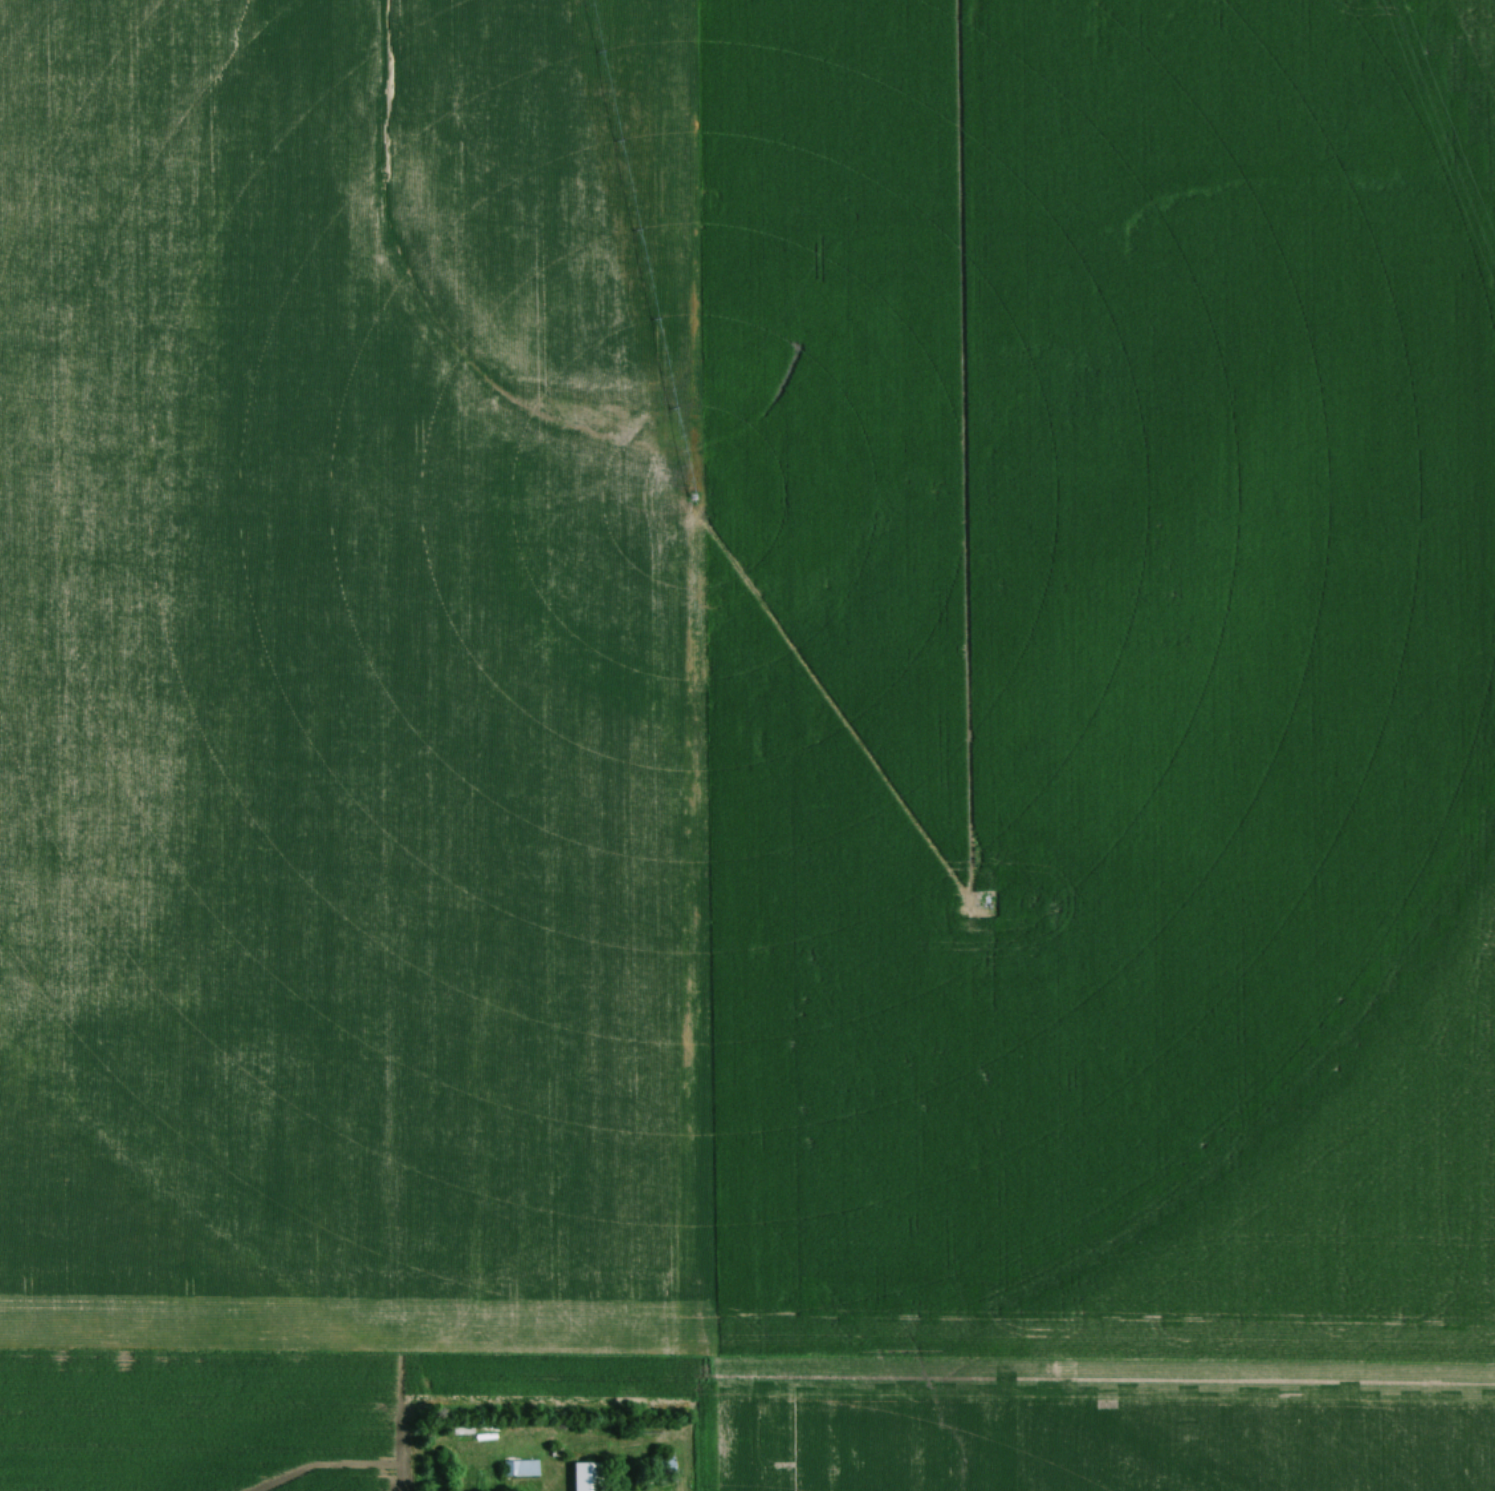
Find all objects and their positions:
building: (519, 1468)
building: (587, 1476)

